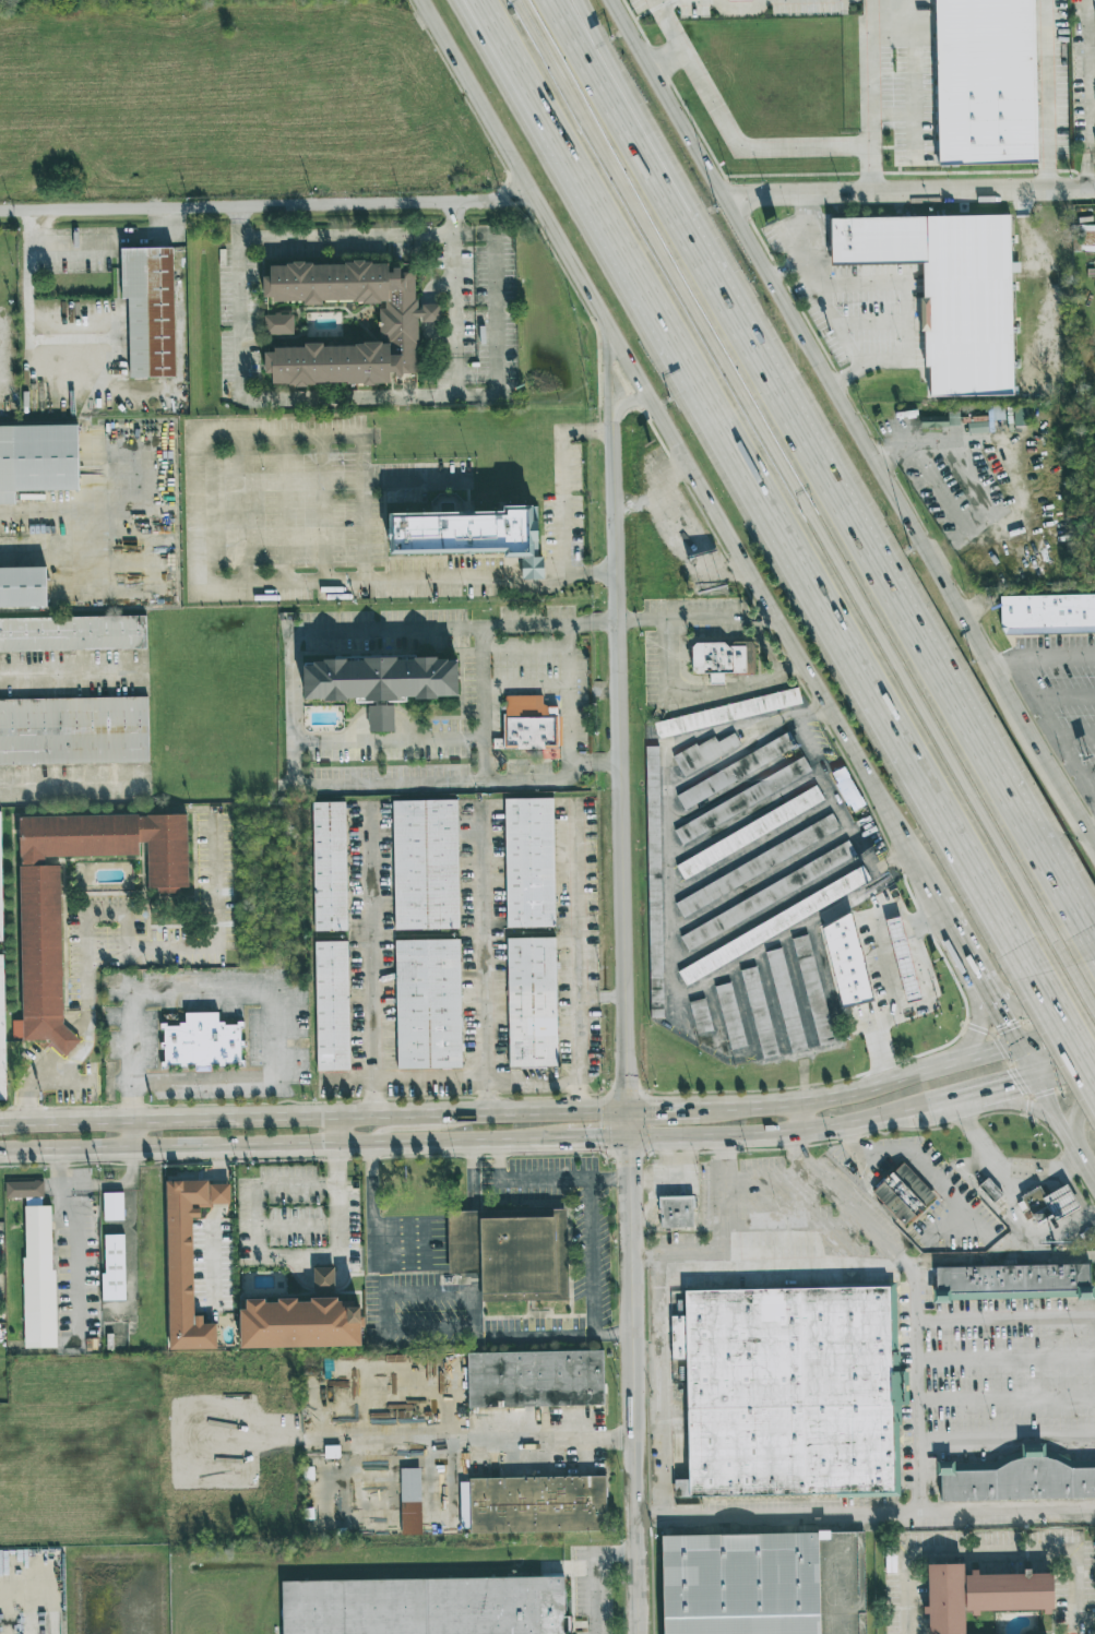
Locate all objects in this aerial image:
road: (671, 3)
road: (502, 53)
road: (508, 53)
road: (872, 64)
building: (988, 81)
road: (616, 94)
road: (623, 94)
road: (1047, 94)
road: (1087, 94)
road: (749, 147)
road: (873, 160)
road: (909, 191)
road: (271, 206)
road: (453, 217)
road: (239, 223)
road: (474, 234)
road: (346, 235)
building: (1086, 238)
road: (99, 239)
road: (453, 242)
road: (1054, 279)
building: (950, 290)
road: (853, 306)
building: (148, 309)
building: (278, 324)
road: (32, 330)
building: (397, 332)
road: (498, 336)
road: (610, 381)
road: (836, 389)
road: (338, 397)
road: (626, 402)
building: (1021, 415)
road: (676, 441)
building: (37, 458)
road: (967, 461)
road: (408, 478)
road: (794, 482)
road: (563, 510)
road: (31, 515)
building: (467, 534)
road: (201, 541)
road: (786, 541)
road: (882, 559)
building: (22, 586)
building: (1047, 615)
road: (295, 629)
building: (73, 637)
road: (525, 646)
road: (1040, 655)
building: (722, 659)
road: (74, 677)
building: (380, 678)
road: (484, 687)
road: (525, 688)
road: (605, 693)
road: (590, 696)
road: (700, 696)
road: (569, 701)
building: (727, 713)
building: (531, 731)
building: (73, 735)
road: (408, 747)
building: (705, 752)
building: (736, 771)
road: (73, 787)
building: (847, 789)
building: (742, 800)
road: (1075, 812)
road: (1091, 830)
building: (749, 833)
building: (757, 866)
building: (531, 868)
building: (426, 869)
building: (331, 871)
building: (654, 882)
building: (0, 892)
road: (943, 904)
road: (108, 915)
building: (166, 918)
road: (905, 925)
building: (773, 926)
road: (895, 928)
road: (878, 933)
road: (869, 939)
road: (912, 943)
road: (901, 945)
road: (882, 950)
road: (968, 950)
road: (371, 952)
road: (486, 959)
building: (903, 959)
road: (915, 959)
building: (846, 962)
road: (904, 963)
building: (41, 965)
road: (886, 969)
building: (882, 978)
gas station: (882, 978)
road: (923, 982)
road: (912, 986)
parking lot: (2, 987)
road: (1083, 987)
building: (812, 990)
road: (893, 991)
road: (168, 993)
building: (786, 1000)
road: (976, 1000)
road: (926, 1001)
building: (534, 1007)
road: (1034, 1007)
building: (429, 1010)
building: (333, 1011)
building: (759, 1012)
building: (700, 1016)
building: (730, 1016)
road: (1009, 1021)
road: (1064, 1030)
road: (627, 1031)
building: (1, 1036)
road: (283, 1036)
building: (201, 1041)
road: (1062, 1060)
traffic signals: (1031, 1071)
road: (592, 1081)
road: (215, 1084)
road: (867, 1086)
road: (993, 1086)
road: (1011, 1102)
road: (374, 1104)
road: (1049, 1106)
road: (663, 1108)
traffic signals: (629, 1109)
road: (804, 1113)
road: (313, 1114)
road: (133, 1116)
road: (1, 1122)
road: (415, 1128)
road: (794, 1128)
road: (337, 1130)
road: (1076, 1134)
road: (598, 1138)
traffic signals: (630, 1138)
road: (283, 1145)
road: (1081, 1158)
road: (131, 1164)
road: (218, 1165)
road: (992, 1165)
road: (58, 1167)
road: (1040, 1169)
road: (1094, 1177)
road: (609, 1178)
road: (95, 1181)
road: (370, 1183)
road: (284, 1188)
building: (24, 1189)
building: (989, 1190)
road: (590, 1191)
road: (216, 1193)
building: (902, 1195)
road: (955, 1204)
building: (1048, 1204)
building: (111, 1207)
building: (676, 1215)
building: (510, 1252)
road: (216, 1256)
road: (1000, 1256)
building: (186, 1263)
building: (112, 1267)
building: (1061, 1275)
building: (37, 1276)
road: (102, 1308)
road: (1005, 1316)
building: (301, 1320)
road: (657, 1321)
road: (435, 1331)
road: (554, 1332)
road: (1007, 1358)
road: (918, 1377)
building: (534, 1379)
parking lot: (1000, 1381)
building: (792, 1383)
road: (1007, 1397)
road: (1007, 1440)
road: (489, 1448)
building: (331, 1452)
building: (1015, 1479)
building: (410, 1501)
building: (532, 1505)
road: (1008, 1507)
road: (655, 1518)
road: (991, 1551)
road: (586, 1571)
building: (740, 1583)
building: (984, 1591)
building: (424, 1606)

